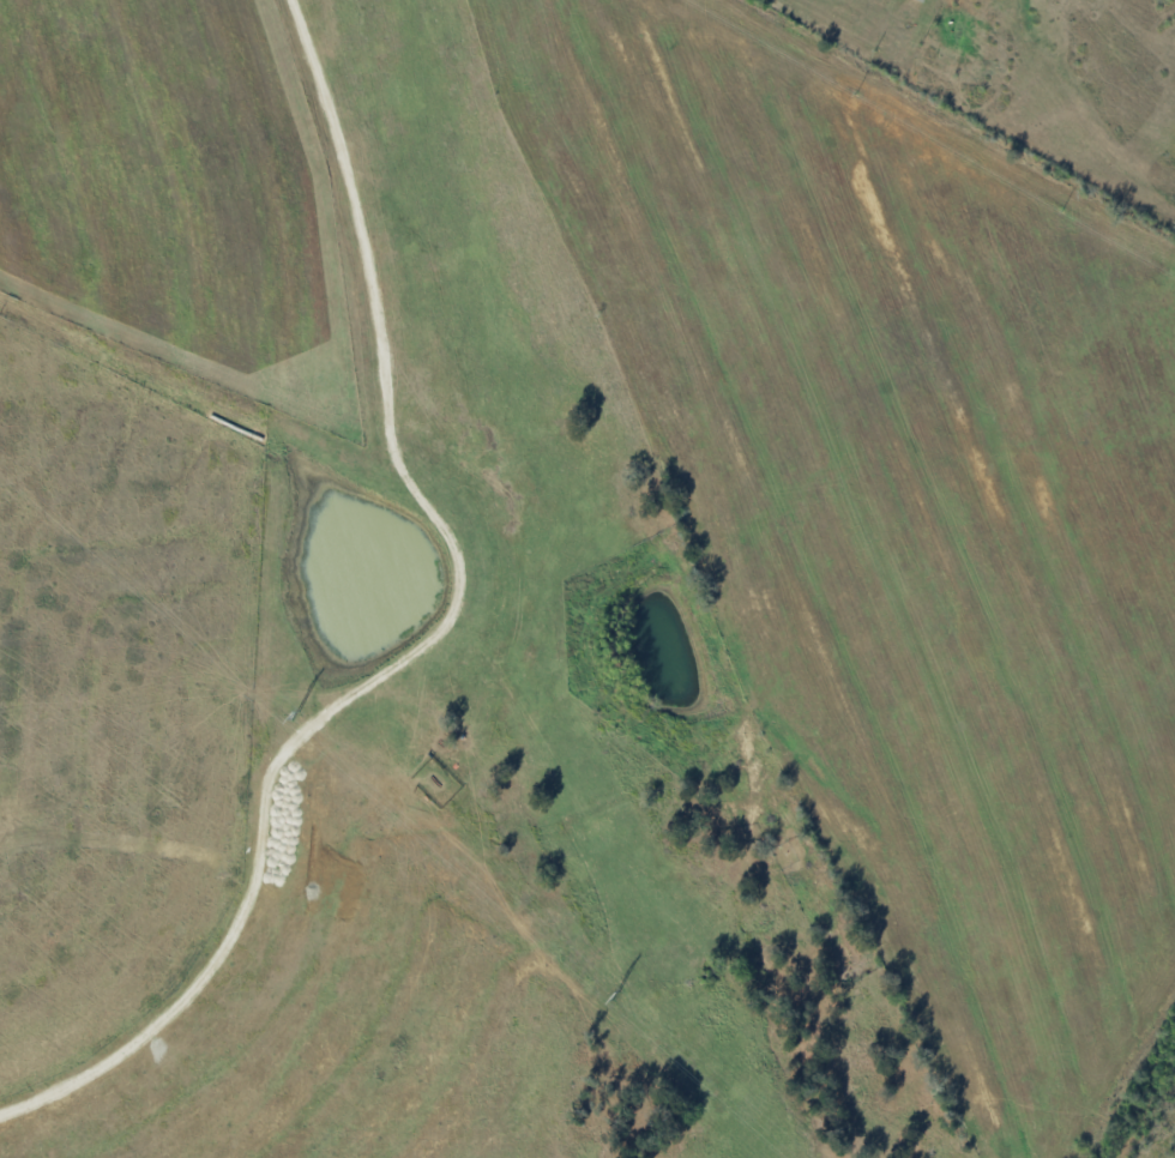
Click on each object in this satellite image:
building: (921, 0)
power tower: (299, 714)
power tower: (617, 996)

